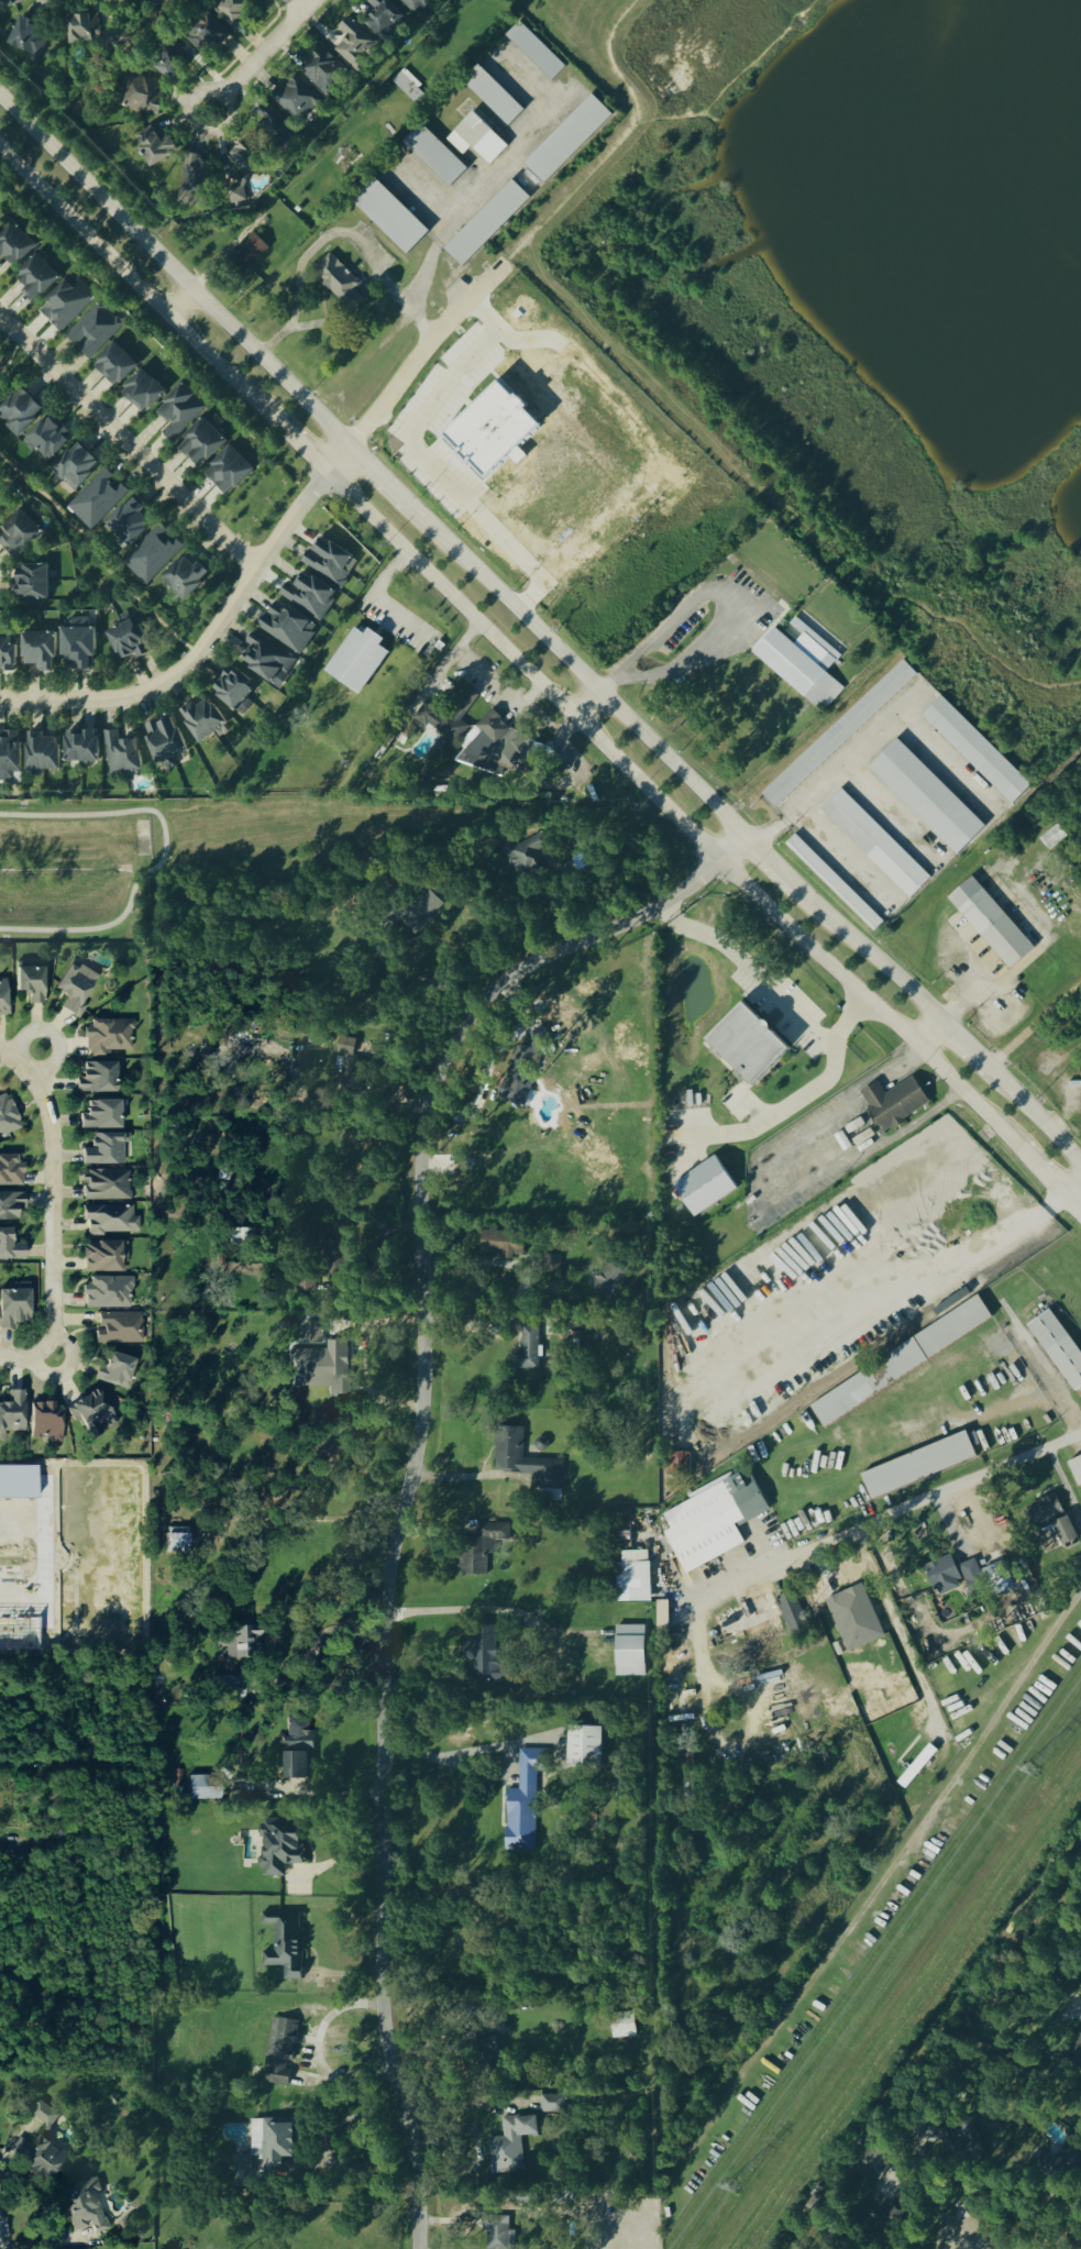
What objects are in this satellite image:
building: (151, 1)
building: (11, 3)
road: (296, 4)
building: (420, 7)
building: (234, 11)
building: (383, 19)
building: (82, 29)
building: (208, 36)
building: (27, 37)
building: (354, 45)
building: (537, 52)
road: (261, 53)
building: (172, 64)
building: (326, 73)
building: (409, 87)
building: (142, 97)
building: (494, 97)
building: (298, 100)
building: (275, 126)
building: (477, 140)
building: (569, 140)
building: (155, 146)
building: (435, 155)
building: (244, 161)
building: (195, 181)
road: (485, 187)
building: (235, 196)
building: (391, 218)
building: (487, 224)
road: (322, 240)
building: (15, 245)
building: (251, 251)
road: (173, 275)
building: (37, 278)
building: (340, 283)
road: (135, 288)
building: (66, 306)
road: (183, 309)
building: (93, 331)
building: (115, 365)
building: (143, 392)
road: (385, 396)
building: (180, 411)
building: (20, 412)
building: (494, 430)
building: (48, 439)
road: (416, 441)
building: (202, 443)
road: (129, 449)
road: (300, 449)
building: (76, 466)
building: (229, 471)
road: (378, 481)
building: (97, 499)
building: (129, 522)
building: (19, 534)
building: (153, 555)
building: (331, 561)
building: (186, 578)
building: (32, 582)
road: (712, 592)
building: (309, 597)
road: (375, 604)
building: (287, 628)
road: (211, 638)
building: (126, 641)
building: (78, 647)
building: (40, 651)
building: (8, 652)
building: (268, 660)
building: (357, 660)
building: (786, 664)
road: (580, 676)
building: (234, 691)
road: (586, 705)
building: (203, 719)
building: (441, 721)
building: (838, 735)
building: (164, 742)
building: (496, 747)
building: (81, 748)
building: (975, 752)
building: (42, 753)
building: (10, 756)
building: (122, 756)
road: (945, 761)
road: (839, 770)
building: (925, 798)
road: (674, 813)
road: (890, 814)
building: (874, 845)
road: (846, 857)
building: (527, 858)
road: (775, 866)
building: (834, 883)
building: (988, 924)
road: (871, 958)
road: (755, 970)
road: (423, 980)
building: (30, 983)
building: (75, 988)
building: (3, 999)
road: (1033, 1025)
road: (26, 1029)
road: (928, 1036)
building: (108, 1037)
building: (749, 1045)
building: (346, 1047)
road: (963, 1048)
road: (13, 1055)
road: (54, 1058)
building: (526, 1069)
building: (97, 1079)
road: (799, 1095)
building: (895, 1103)
building: (101, 1116)
building: (7, 1117)
road: (1034, 1118)
building: (106, 1150)
building: (10, 1172)
road: (1043, 1173)
building: (106, 1186)
building: (705, 1188)
road: (1072, 1189)
road: (1072, 1204)
building: (10, 1206)
road: (53, 1206)
building: (109, 1220)
building: (503, 1244)
building: (10, 1247)
building: (103, 1258)
building: (335, 1258)
road: (515, 1276)
road: (376, 1277)
building: (610, 1280)
building: (308, 1286)
building: (108, 1293)
building: (13, 1309)
building: (119, 1329)
building: (936, 1341)
building: (1059, 1347)
building: (530, 1349)
road: (26, 1357)
road: (363, 1357)
building: (322, 1368)
road: (1044, 1368)
building: (117, 1372)
building: (92, 1412)
building: (12, 1414)
building: (45, 1422)
road: (862, 1443)
building: (526, 1460)
road: (418, 1462)
building: (677, 1464)
building: (918, 1466)
building: (1076, 1469)
road: (471, 1478)
road: (1065, 1482)
building: (1044, 1511)
road: (882, 1518)
building: (713, 1521)
building: (1063, 1534)
building: (177, 1541)
building: (482, 1547)
crop: (75, 1553)
road: (43, 1561)
building: (995, 1574)
building: (945, 1576)
building: (633, 1577)
building: (973, 1577)
road: (500, 1609)
building: (785, 1612)
building: (854, 1619)
road: (330, 1628)
road: (900, 1630)
building: (242, 1642)
building: (630, 1652)
building: (485, 1656)
building: (584, 1745)
building: (296, 1750)
road: (497, 1752)
building: (917, 1767)
power tower: (1030, 1772)
building: (203, 1788)
building: (523, 1802)
road: (927, 1821)
building: (279, 1845)
building: (285, 1943)
building: (622, 2026)
building: (280, 2050)
building: (1077, 2058)
building: (552, 2104)
building: (41, 2119)
building: (510, 2145)
road: (327, 2147)
building: (40, 2158)
building: (876, 2162)
building: (1069, 2163)
power tower: (728, 2189)
building: (84, 2206)
building: (498, 2234)
road: (974, 2245)

